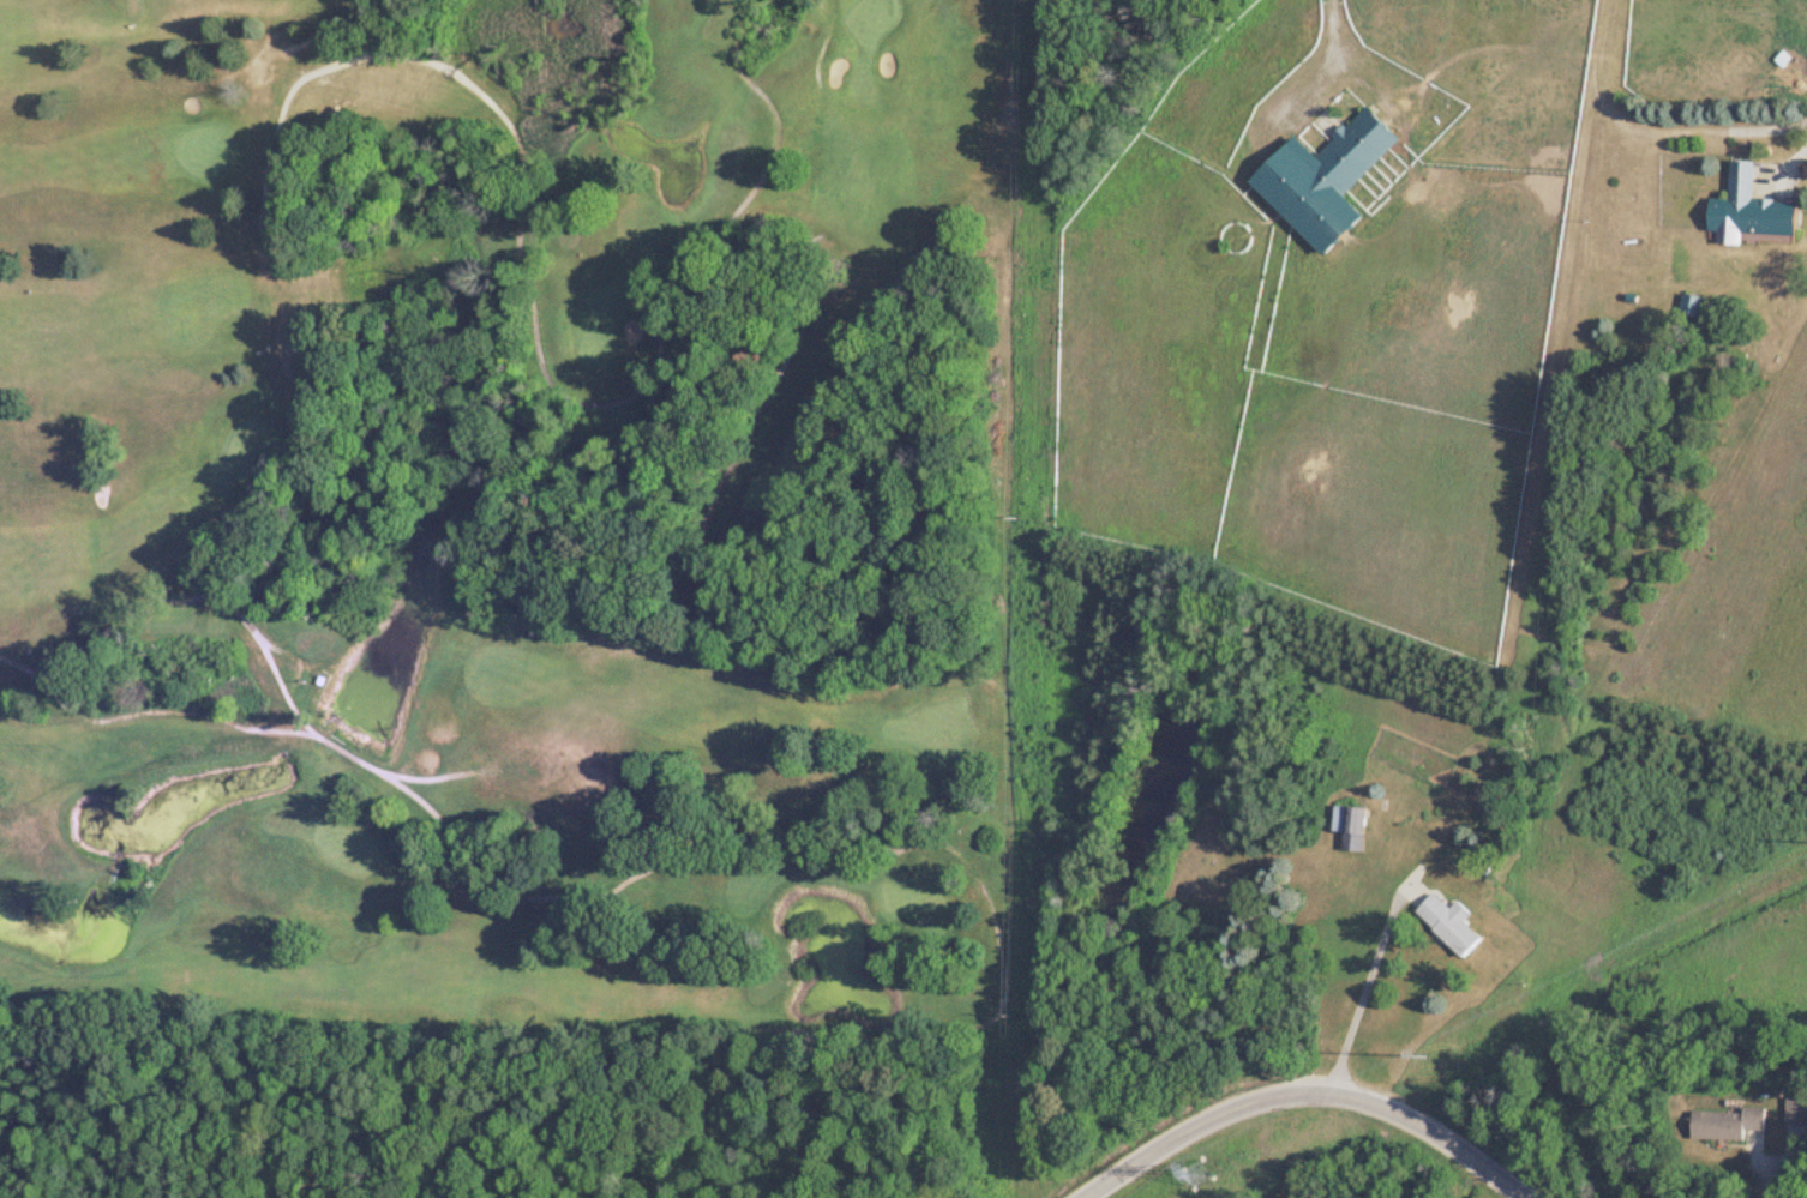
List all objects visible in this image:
road: (1321, 61)
road: (1797, 159)
building: (1320, 180)
building: (1745, 216)
park: (514, 511)
building: (1347, 827)
building: (1445, 925)
road: (1367, 982)
power tower: (1436, 1053)
road: (1296, 1092)
building: (1793, 1110)
building: (1722, 1125)
road: (1758, 1172)
power tower: (1191, 1174)

